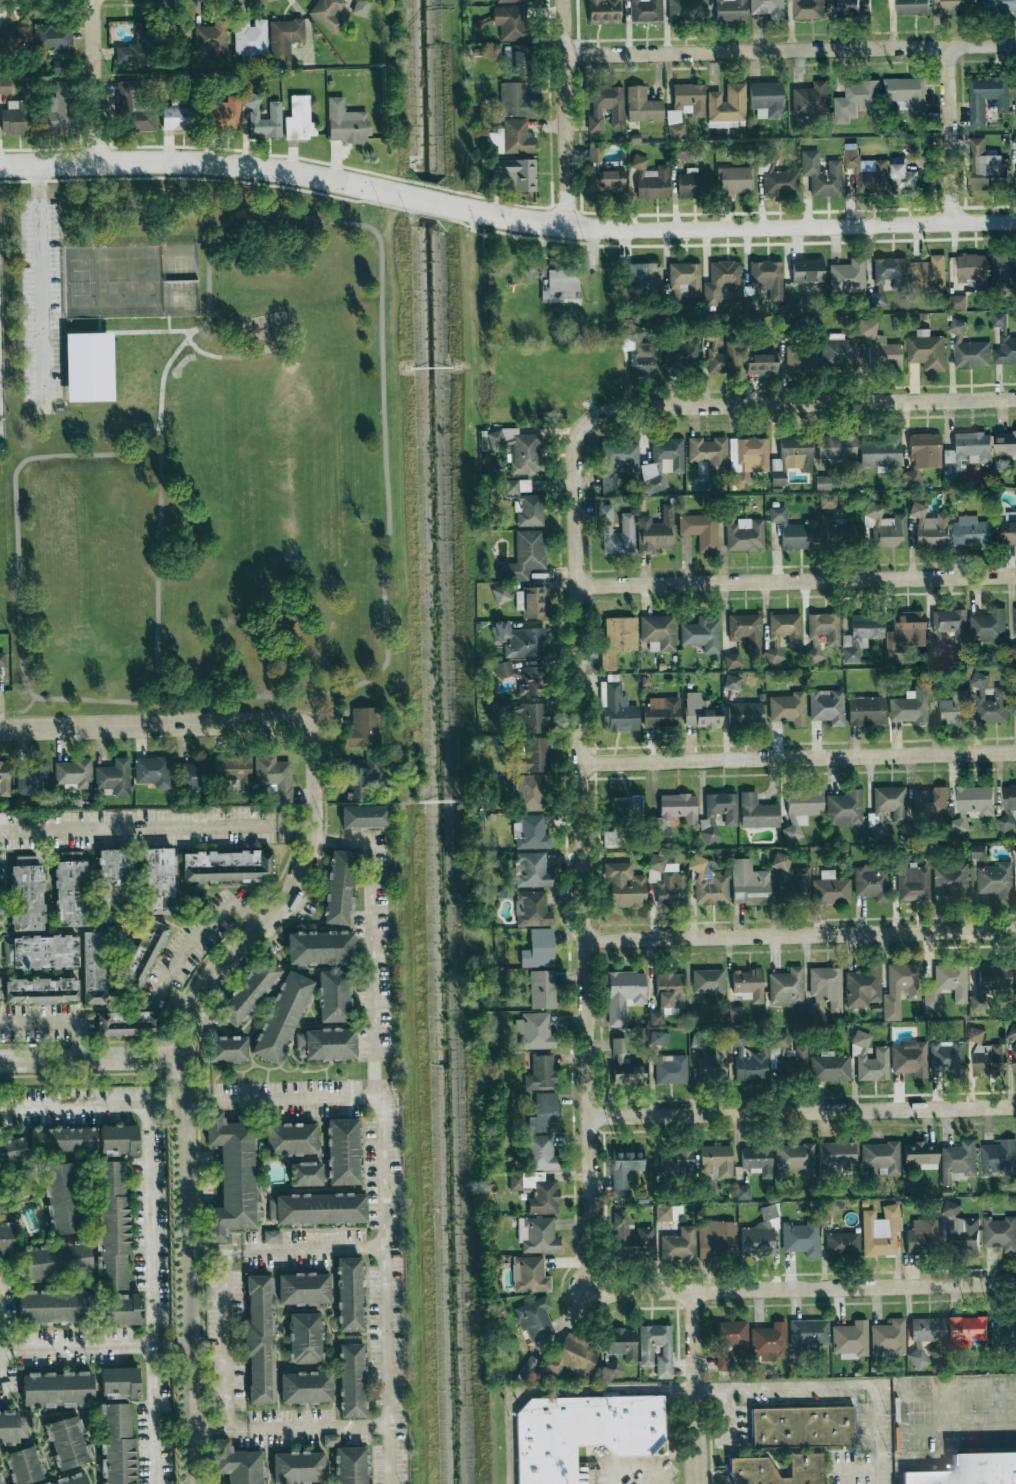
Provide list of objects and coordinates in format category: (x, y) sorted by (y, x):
building: (512, 1)
building: (957, 6)
building: (998, 6)
building: (361, 7)
building: (852, 7)
building: (912, 7)
building: (768, 8)
building: (807, 9)
building: (646, 10)
building: (686, 10)
building: (730, 10)
building: (603, 11)
building: (328, 13)
building: (510, 22)
building: (15, 37)
building: (55, 38)
building: (211, 38)
building: (250, 38)
building: (284, 39)
building: (138, 45)
road: (792, 50)
building: (519, 60)
building: (59, 67)
road: (98, 81)
building: (5, 86)
building: (907, 96)
building: (986, 98)
building: (515, 99)
building: (766, 99)
building: (810, 99)
building: (1014, 100)
building: (856, 101)
building: (727, 104)
building: (642, 105)
building: (684, 107)
building: (59, 108)
building: (132, 108)
building: (605, 108)
building: (274, 112)
road: (568, 112)
building: (223, 114)
building: (17, 117)
building: (179, 117)
building: (299, 119)
building: (345, 122)
road: (951, 134)
building: (514, 137)
building: (681, 151)
road: (200, 163)
building: (986, 166)
building: (604, 173)
building: (866, 173)
building: (514, 174)
building: (821, 174)
building: (777, 176)
building: (650, 179)
building: (903, 179)
building: (734, 180)
building: (692, 184)
road: (430, 201)
road: (91, 204)
road: (738, 228)
building: (807, 270)
building: (973, 270)
building: (1002, 273)
building: (928, 274)
building: (847, 275)
building: (686, 276)
building: (887, 277)
building: (646, 278)
building: (767, 278)
building: (722, 282)
building: (559, 284)
road: (39, 286)
building: (755, 297)
building: (675, 298)
parking lot: (40, 299)
building: (957, 303)
building: (1003, 342)
building: (879, 346)
building: (968, 349)
building: (926, 350)
building: (838, 352)
building: (682, 353)
building: (643, 354)
building: (725, 359)
building: (801, 359)
building: (762, 364)
building: (88, 366)
road: (380, 371)
road: (806, 403)
building: (1005, 444)
park: (201, 447)
building: (836, 447)
building: (518, 449)
building: (966, 452)
building: (708, 454)
building: (668, 455)
building: (922, 455)
building: (791, 457)
building: (747, 459)
building: (617, 461)
building: (652, 478)
building: (822, 483)
building: (514, 486)
road: (158, 500)
building: (828, 501)
building: (529, 510)
building: (887, 527)
building: (930, 528)
building: (1008, 529)
building: (700, 530)
building: (795, 530)
building: (656, 531)
building: (743, 531)
building: (971, 531)
building: (616, 532)
building: (842, 532)
building: (525, 555)
road: (798, 581)
building: (501, 594)
building: (531, 602)
building: (1014, 625)
building: (988, 627)
building: (947, 629)
road: (20, 630)
building: (906, 630)
building: (746, 631)
building: (658, 632)
building: (822, 633)
building: (701, 634)
building: (782, 634)
building: (861, 635)
building: (617, 638)
building: (521, 640)
building: (2, 659)
building: (732, 660)
building: (502, 669)
building: (530, 681)
building: (732, 682)
building: (989, 701)
building: (1014, 702)
building: (502, 705)
building: (826, 706)
building: (909, 706)
building: (788, 708)
road: (19, 709)
road: (282, 709)
building: (617, 709)
building: (954, 709)
building: (866, 711)
building: (662, 712)
building: (700, 712)
building: (744, 713)
building: (534, 717)
road: (144, 726)
building: (363, 728)
river: (441, 741)
building: (533, 755)
road: (800, 758)
building: (152, 771)
building: (234, 772)
building: (73, 773)
building: (192, 774)
building: (274, 775)
building: (4, 778)
building: (32, 778)
building: (113, 778)
building: (360, 778)
building: (531, 793)
building: (930, 801)
building: (972, 805)
building: (887, 807)
building: (1008, 808)
building: (845, 809)
building: (801, 810)
building: (757, 812)
building: (673, 814)
building: (718, 814)
building: (622, 816)
building: (359, 818)
road: (157, 824)
building: (530, 832)
road: (585, 832)
building: (978, 852)
building: (227, 866)
building: (532, 870)
building: (801, 875)
building: (115, 876)
building: (1014, 876)
building: (157, 880)
building: (910, 880)
building: (950, 880)
building: (994, 880)
building: (669, 881)
building: (871, 882)
building: (709, 883)
building: (748, 883)
building: (625, 886)
building: (333, 888)
building: (831, 889)
building: (70, 890)
building: (26, 894)
road: (286, 895)
building: (0, 901)
building: (532, 909)
road: (801, 936)
road: (189, 946)
building: (316, 949)
building: (538, 949)
building: (40, 952)
building: (142, 954)
building: (93, 967)
building: (1015, 975)
building: (709, 982)
building: (748, 983)
building: (989, 984)
building: (946, 985)
building: (786, 987)
building: (863, 987)
building: (542, 989)
building: (825, 989)
building: (41, 990)
building: (246, 991)
building: (913, 991)
building: (623, 994)
building: (667, 995)
building: (327, 996)
building: (736, 1014)
building: (695, 1016)
building: (276, 1018)
building: (127, 1023)
road: (57, 1024)
building: (534, 1031)
building: (659, 1038)
building: (326, 1045)
building: (1013, 1046)
building: (222, 1050)
building: (777, 1051)
building: (985, 1055)
building: (947, 1057)
building: (910, 1058)
building: (869, 1059)
road: (91, 1060)
building: (748, 1061)
building: (625, 1064)
building: (711, 1067)
building: (830, 1067)
building: (671, 1069)
building: (540, 1073)
road: (278, 1097)
road: (174, 1101)
road: (154, 1103)
building: (544, 1113)
road: (804, 1113)
road: (376, 1136)
building: (56, 1140)
building: (286, 1140)
building: (113, 1141)
building: (9, 1152)
building: (338, 1152)
road: (145, 1153)
building: (541, 1153)
building: (838, 1155)
building: (921, 1155)
building: (881, 1157)
building: (795, 1158)
building: (999, 1158)
building: (717, 1160)
building: (757, 1160)
building: (675, 1162)
building: (958, 1162)
building: (624, 1170)
building: (301, 1175)
building: (227, 1176)
building: (537, 1192)
building: (743, 1192)
building: (57, 1198)
building: (826, 1208)
building: (951, 1209)
building: (316, 1210)
building: (663, 1213)
building: (107, 1226)
building: (880, 1231)
building: (759, 1233)
building: (1000, 1234)
building: (963, 1235)
building: (271, 1236)
building: (922, 1236)
building: (801, 1238)
building: (717, 1239)
building: (640, 1241)
building: (4, 1242)
building: (842, 1244)
building: (679, 1245)
building: (51, 1262)
road: (190, 1271)
building: (529, 1274)
road: (786, 1289)
building: (299, 1290)
building: (344, 1296)
building: (46, 1306)
building: (115, 1310)
building: (535, 1317)
building: (967, 1331)
building: (808, 1333)
building: (1004, 1335)
road: (222, 1336)
building: (925, 1337)
building: (300, 1338)
building: (850, 1338)
building: (888, 1338)
building: (769, 1341)
building: (730, 1342)
building: (254, 1343)
building: (623, 1343)
road: (80, 1346)
road: (177, 1346)
building: (646, 1351)
building: (572, 1359)
building: (529, 1367)
building: (612, 1368)
road: (0, 1369)
building: (347, 1382)
building: (114, 1384)
road: (697, 1388)
building: (51, 1389)
building: (300, 1390)
road: (832, 1390)
road: (958, 1393)
road: (153, 1415)
road: (210, 1424)
building: (13, 1429)
road: (940, 1430)
building: (581, 1432)
building: (62, 1444)
building: (792, 1445)
building: (113, 1446)
building: (342, 1461)
building: (231, 1464)
building: (19, 1466)
building: (293, 1468)
road: (628, 1468)
building: (970, 1471)
building: (1, 1480)
building: (69, 1480)

